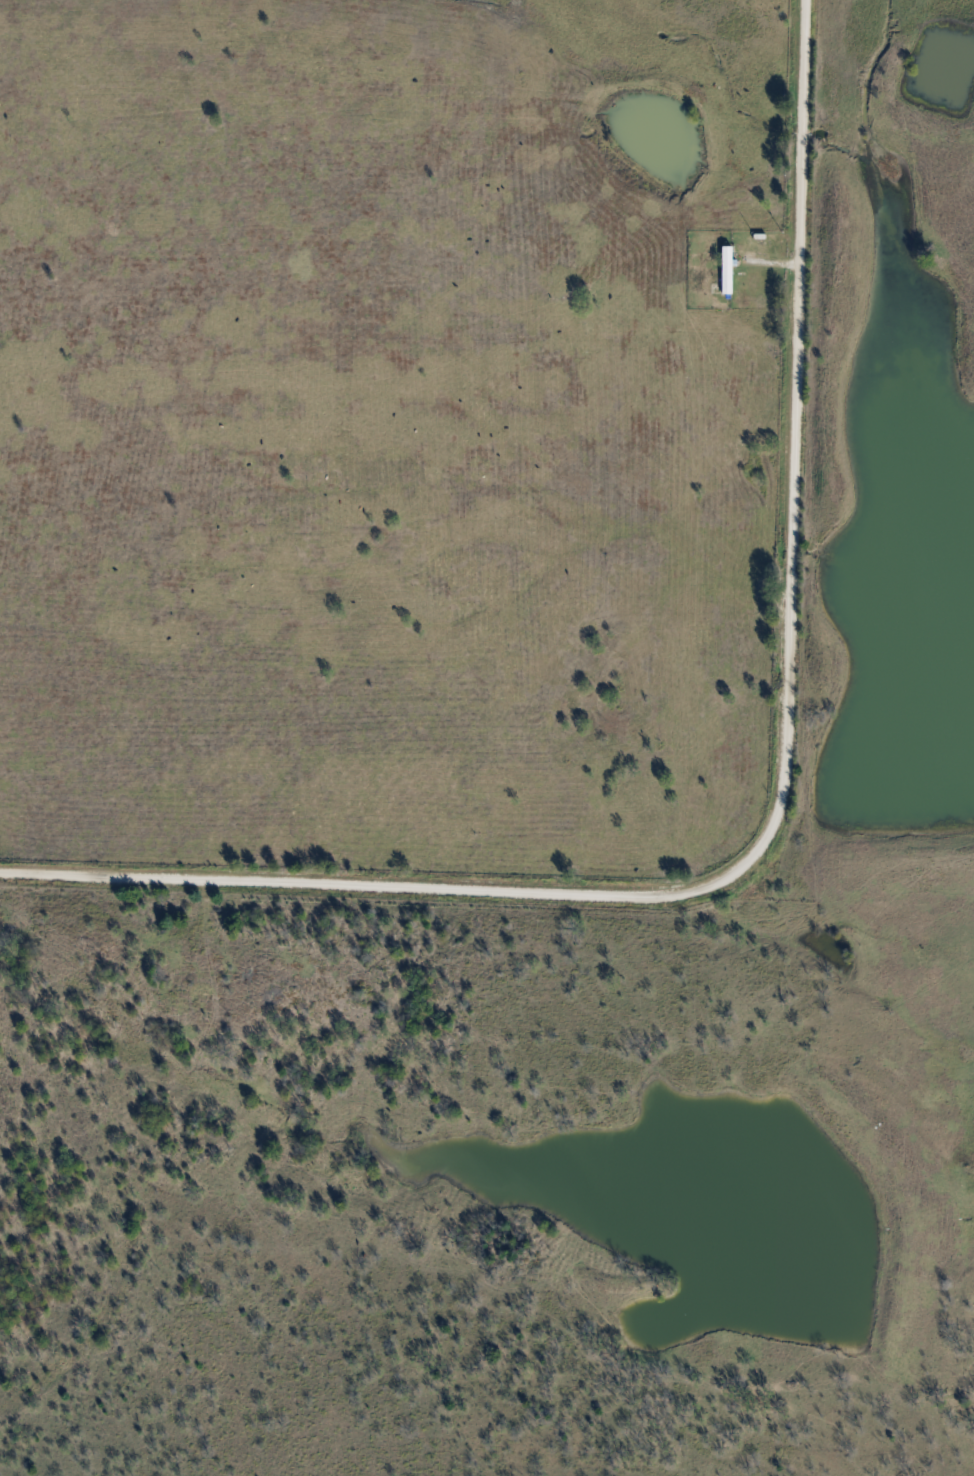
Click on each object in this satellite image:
road: (771, 262)
building: (725, 270)
road: (776, 813)

